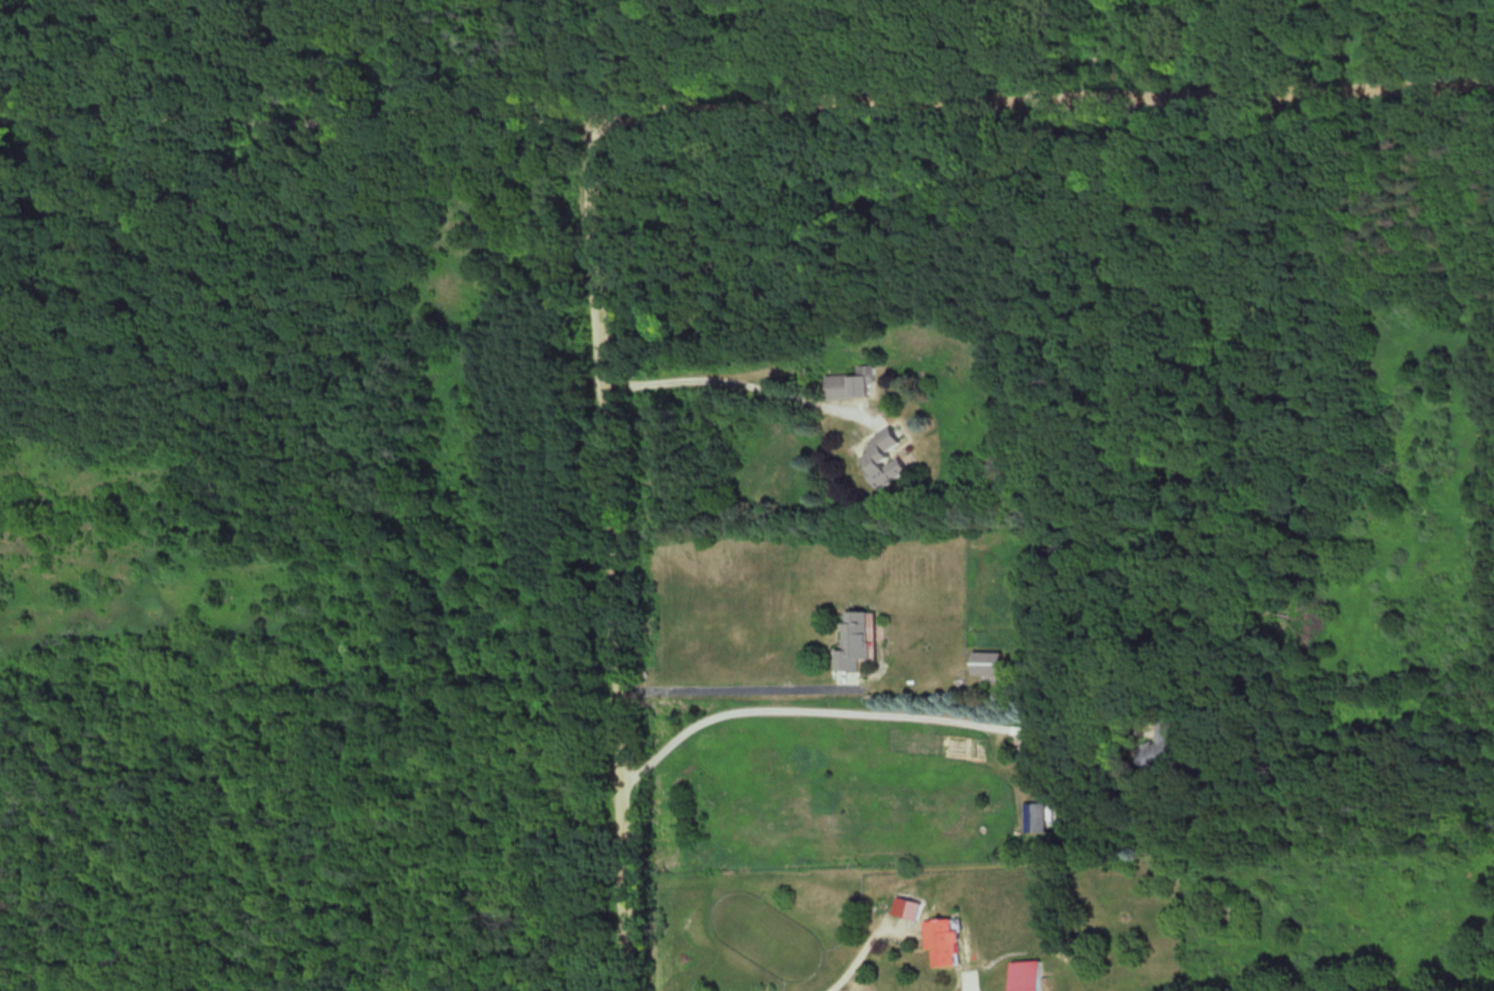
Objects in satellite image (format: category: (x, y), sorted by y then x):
road: (1057, 99)
road: (310, 121)
road: (739, 380)
building: (847, 383)
park: (549, 388)
building: (880, 459)
road: (610, 546)
building: (854, 642)
building: (985, 663)
road: (731, 689)
road: (863, 712)
building: (1152, 763)
building: (1035, 817)
building: (947, 942)
building: (1029, 976)

